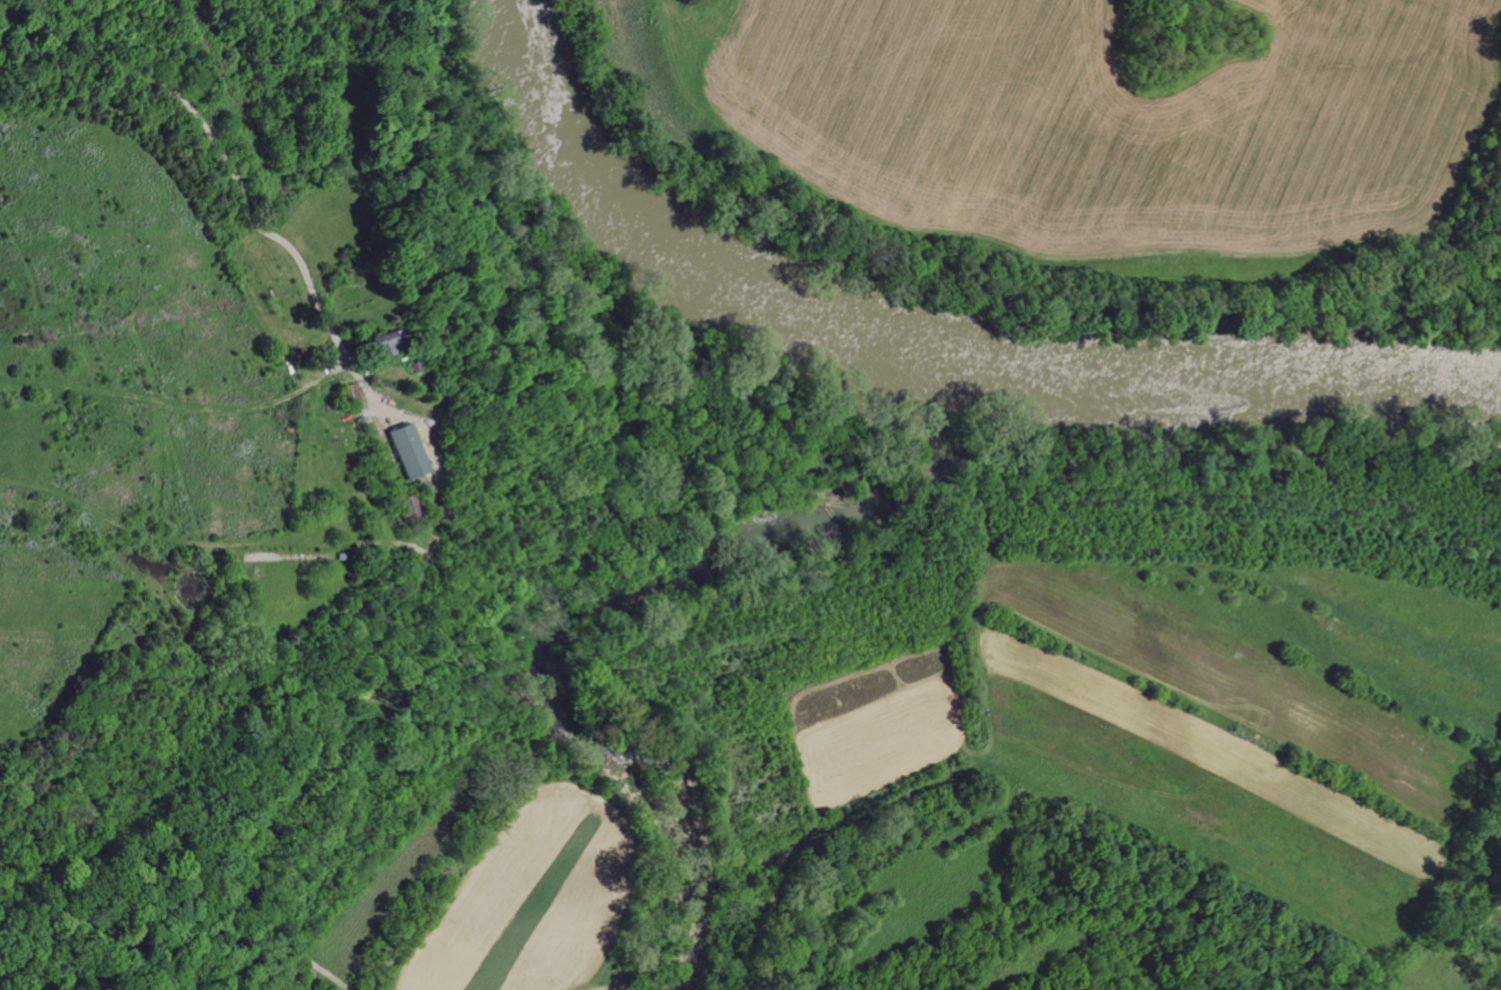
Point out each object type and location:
road: (226, 175)
river: (919, 325)
building: (352, 392)
building: (408, 451)

